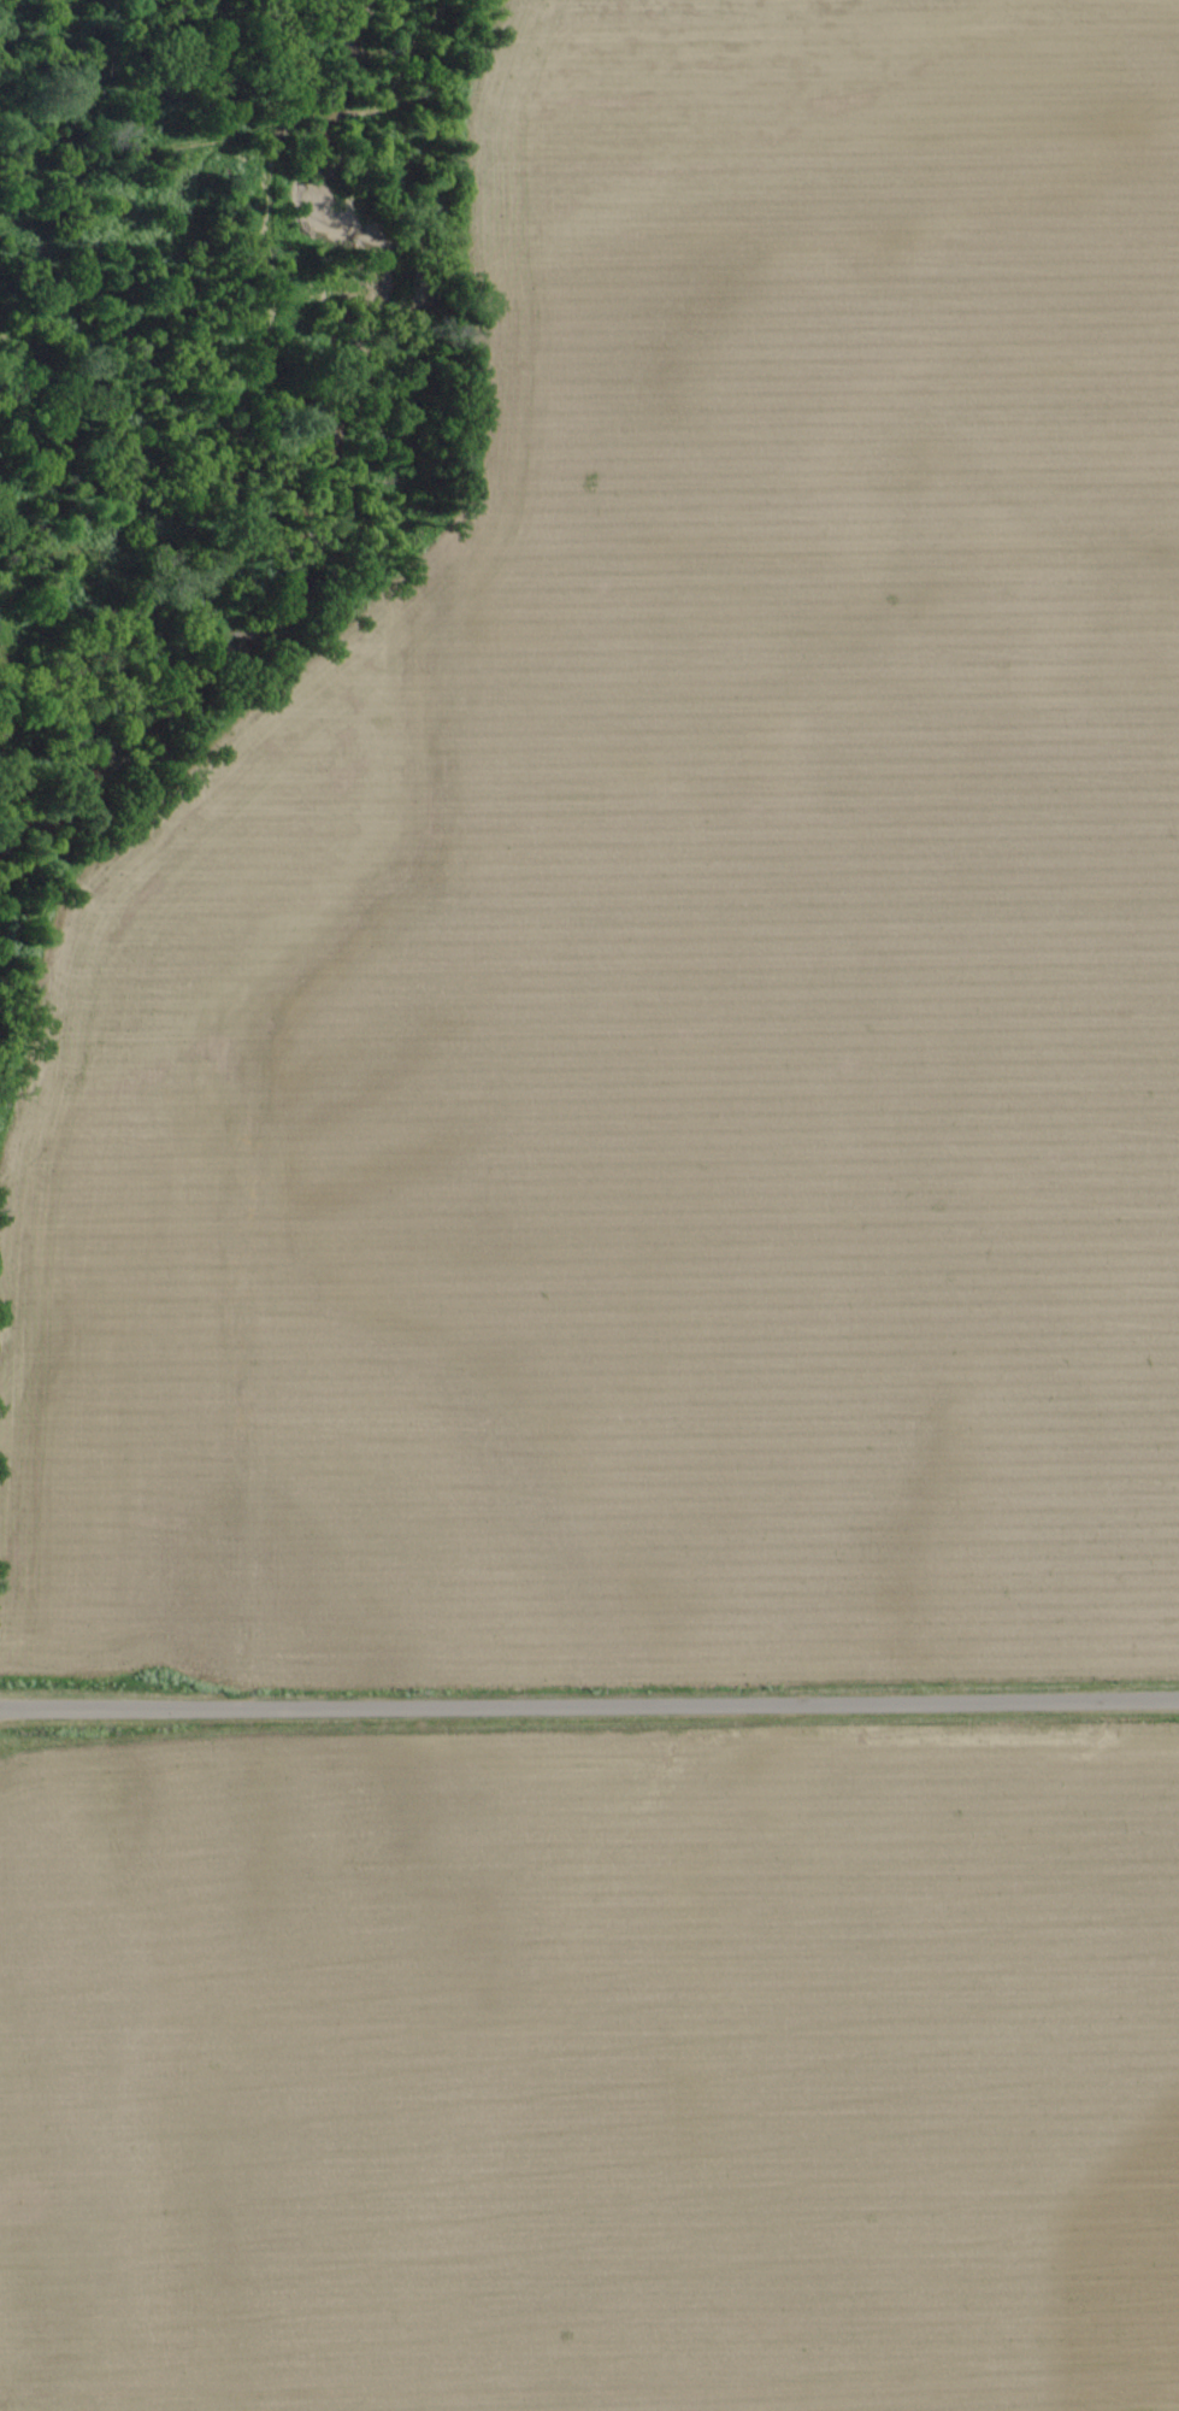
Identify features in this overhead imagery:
road: (589, 1703)

